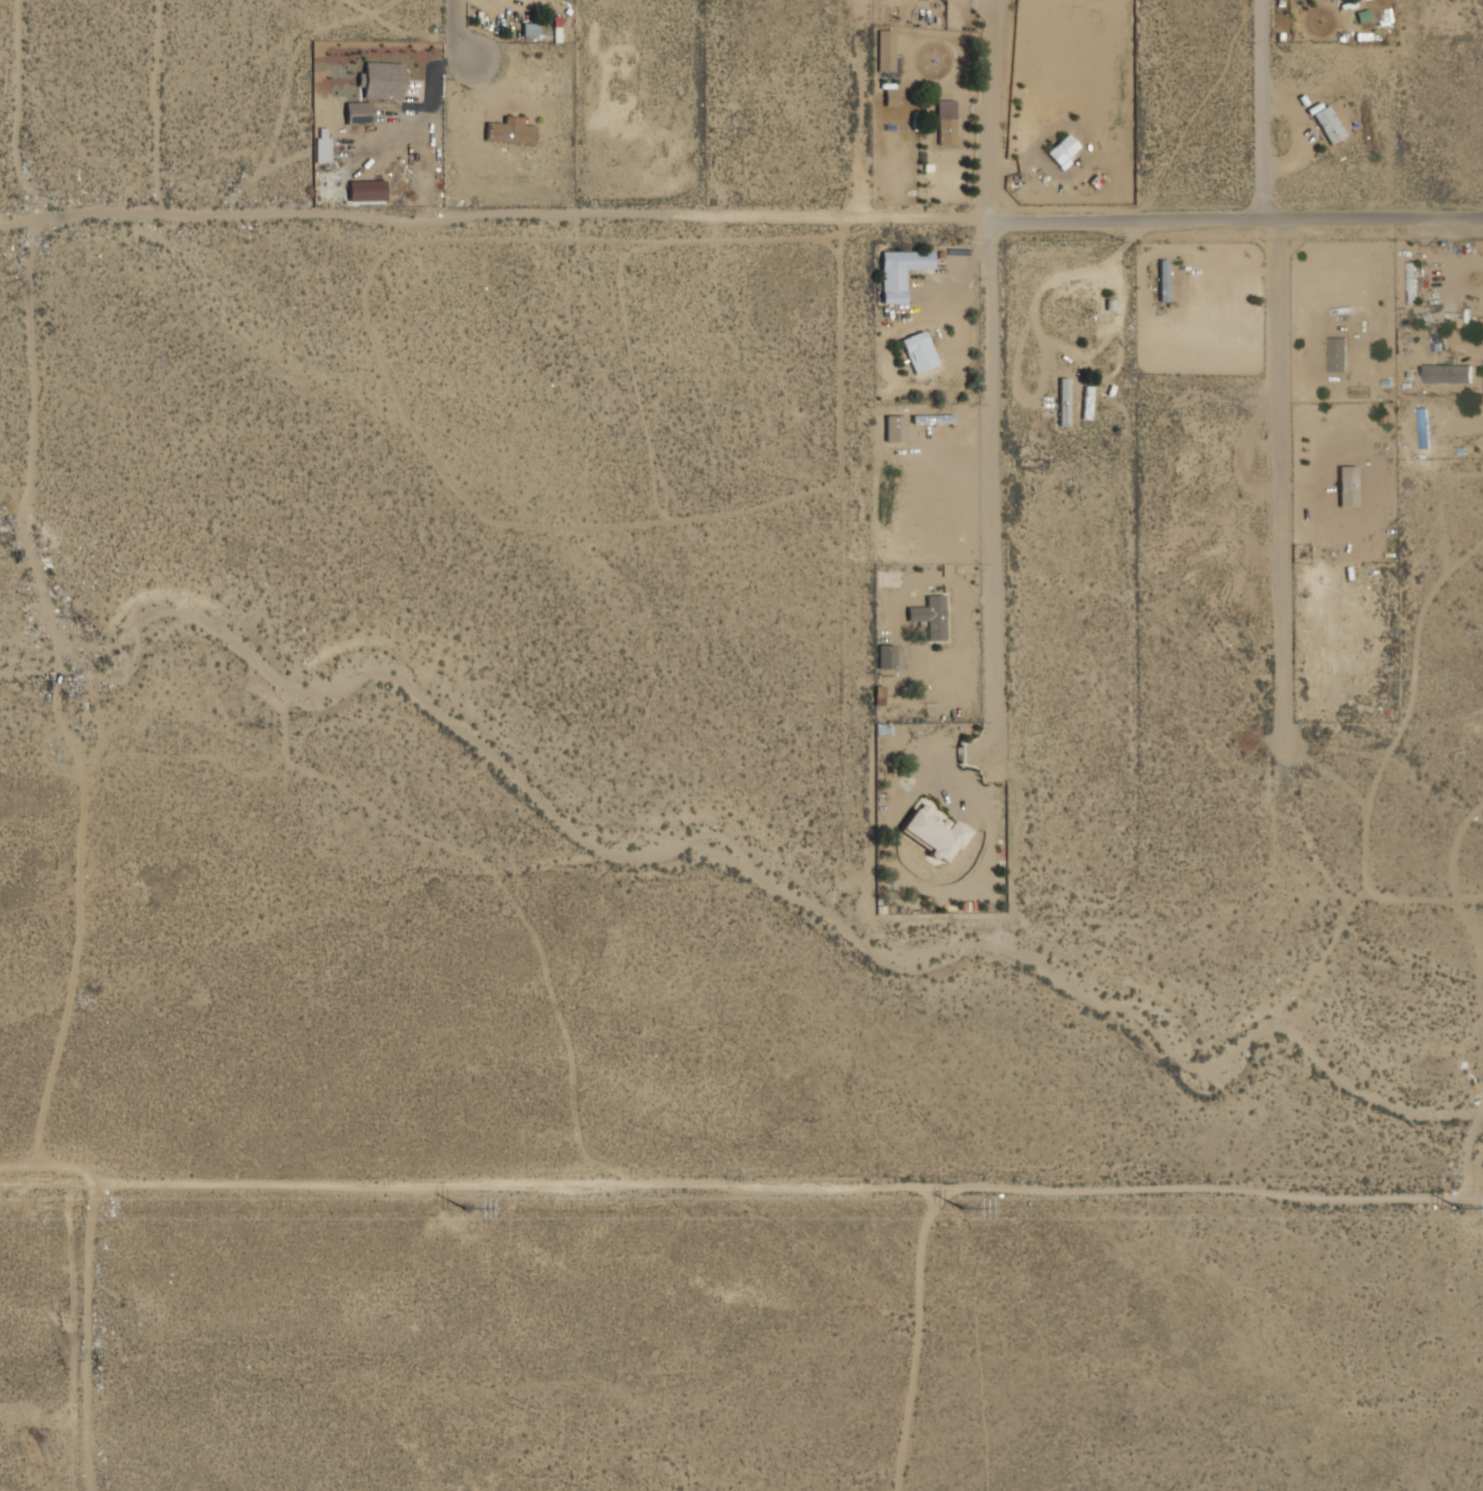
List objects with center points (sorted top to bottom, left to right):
road: (464, 30)
building: (884, 63)
building: (381, 79)
building: (890, 97)
building: (357, 112)
building: (1326, 124)
building: (507, 131)
building: (943, 131)
building: (322, 145)
building: (1060, 150)
road: (1233, 202)
building: (900, 272)
building: (1163, 280)
building: (1411, 283)
building: (918, 351)
building: (1337, 354)
building: (1446, 373)
building: (1063, 401)
building: (1087, 402)
road: (988, 407)
road: (1263, 411)
building: (932, 418)
building: (895, 428)
building: (1423, 428)
building: (1347, 486)
building: (930, 616)
building: (885, 656)
building: (878, 694)
building: (934, 832)
power tower: (469, 1210)
power tower: (963, 1210)
power tower: (1461, 1210)

